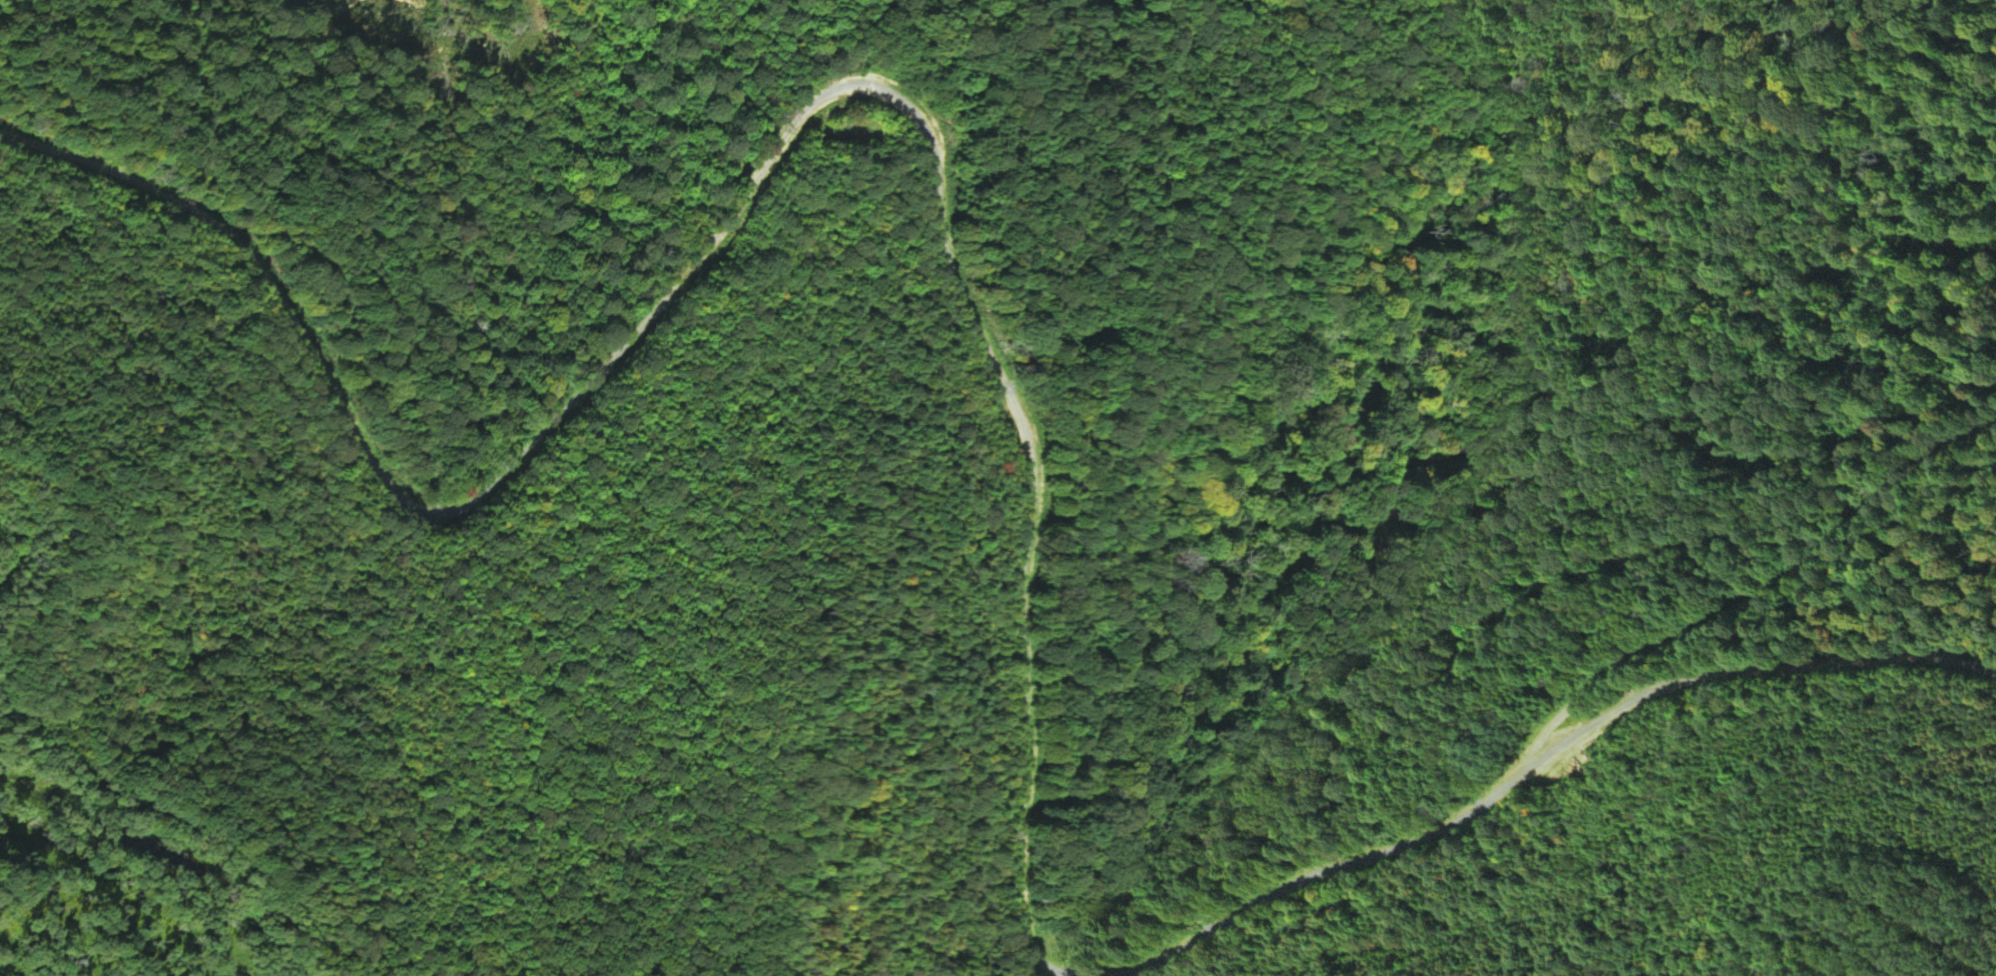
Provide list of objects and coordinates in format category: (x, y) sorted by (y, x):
road: (1090, 297)
road: (1796, 528)
road: (63, 908)

